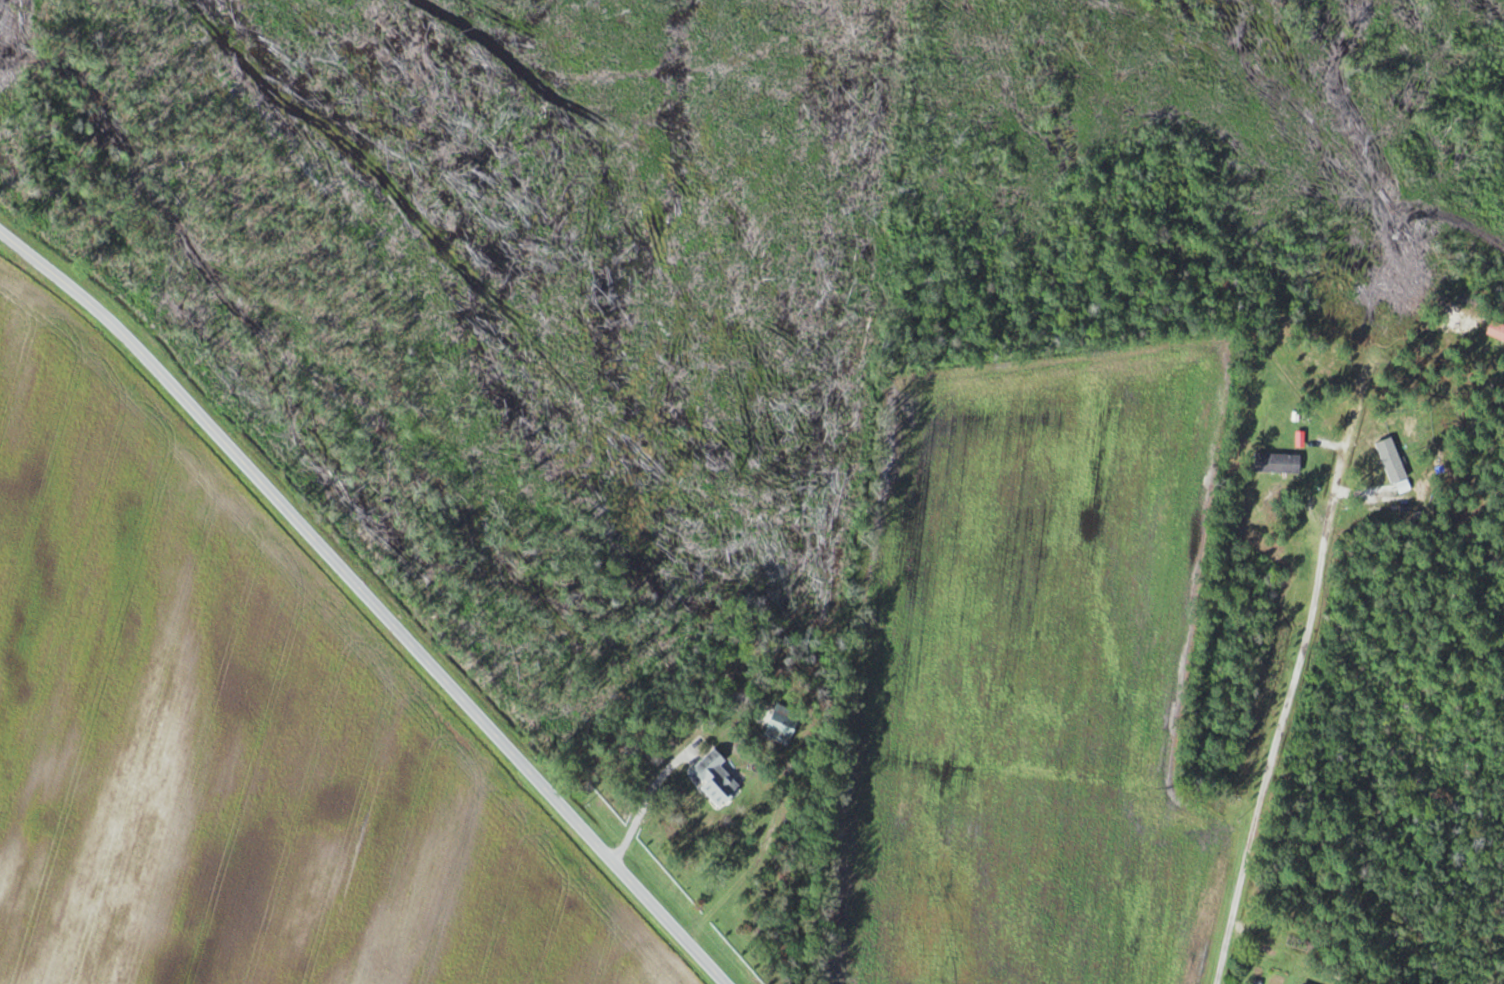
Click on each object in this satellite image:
building: (1277, 463)
road: (370, 600)
building: (782, 724)
building: (715, 778)
building: (1275, 978)

